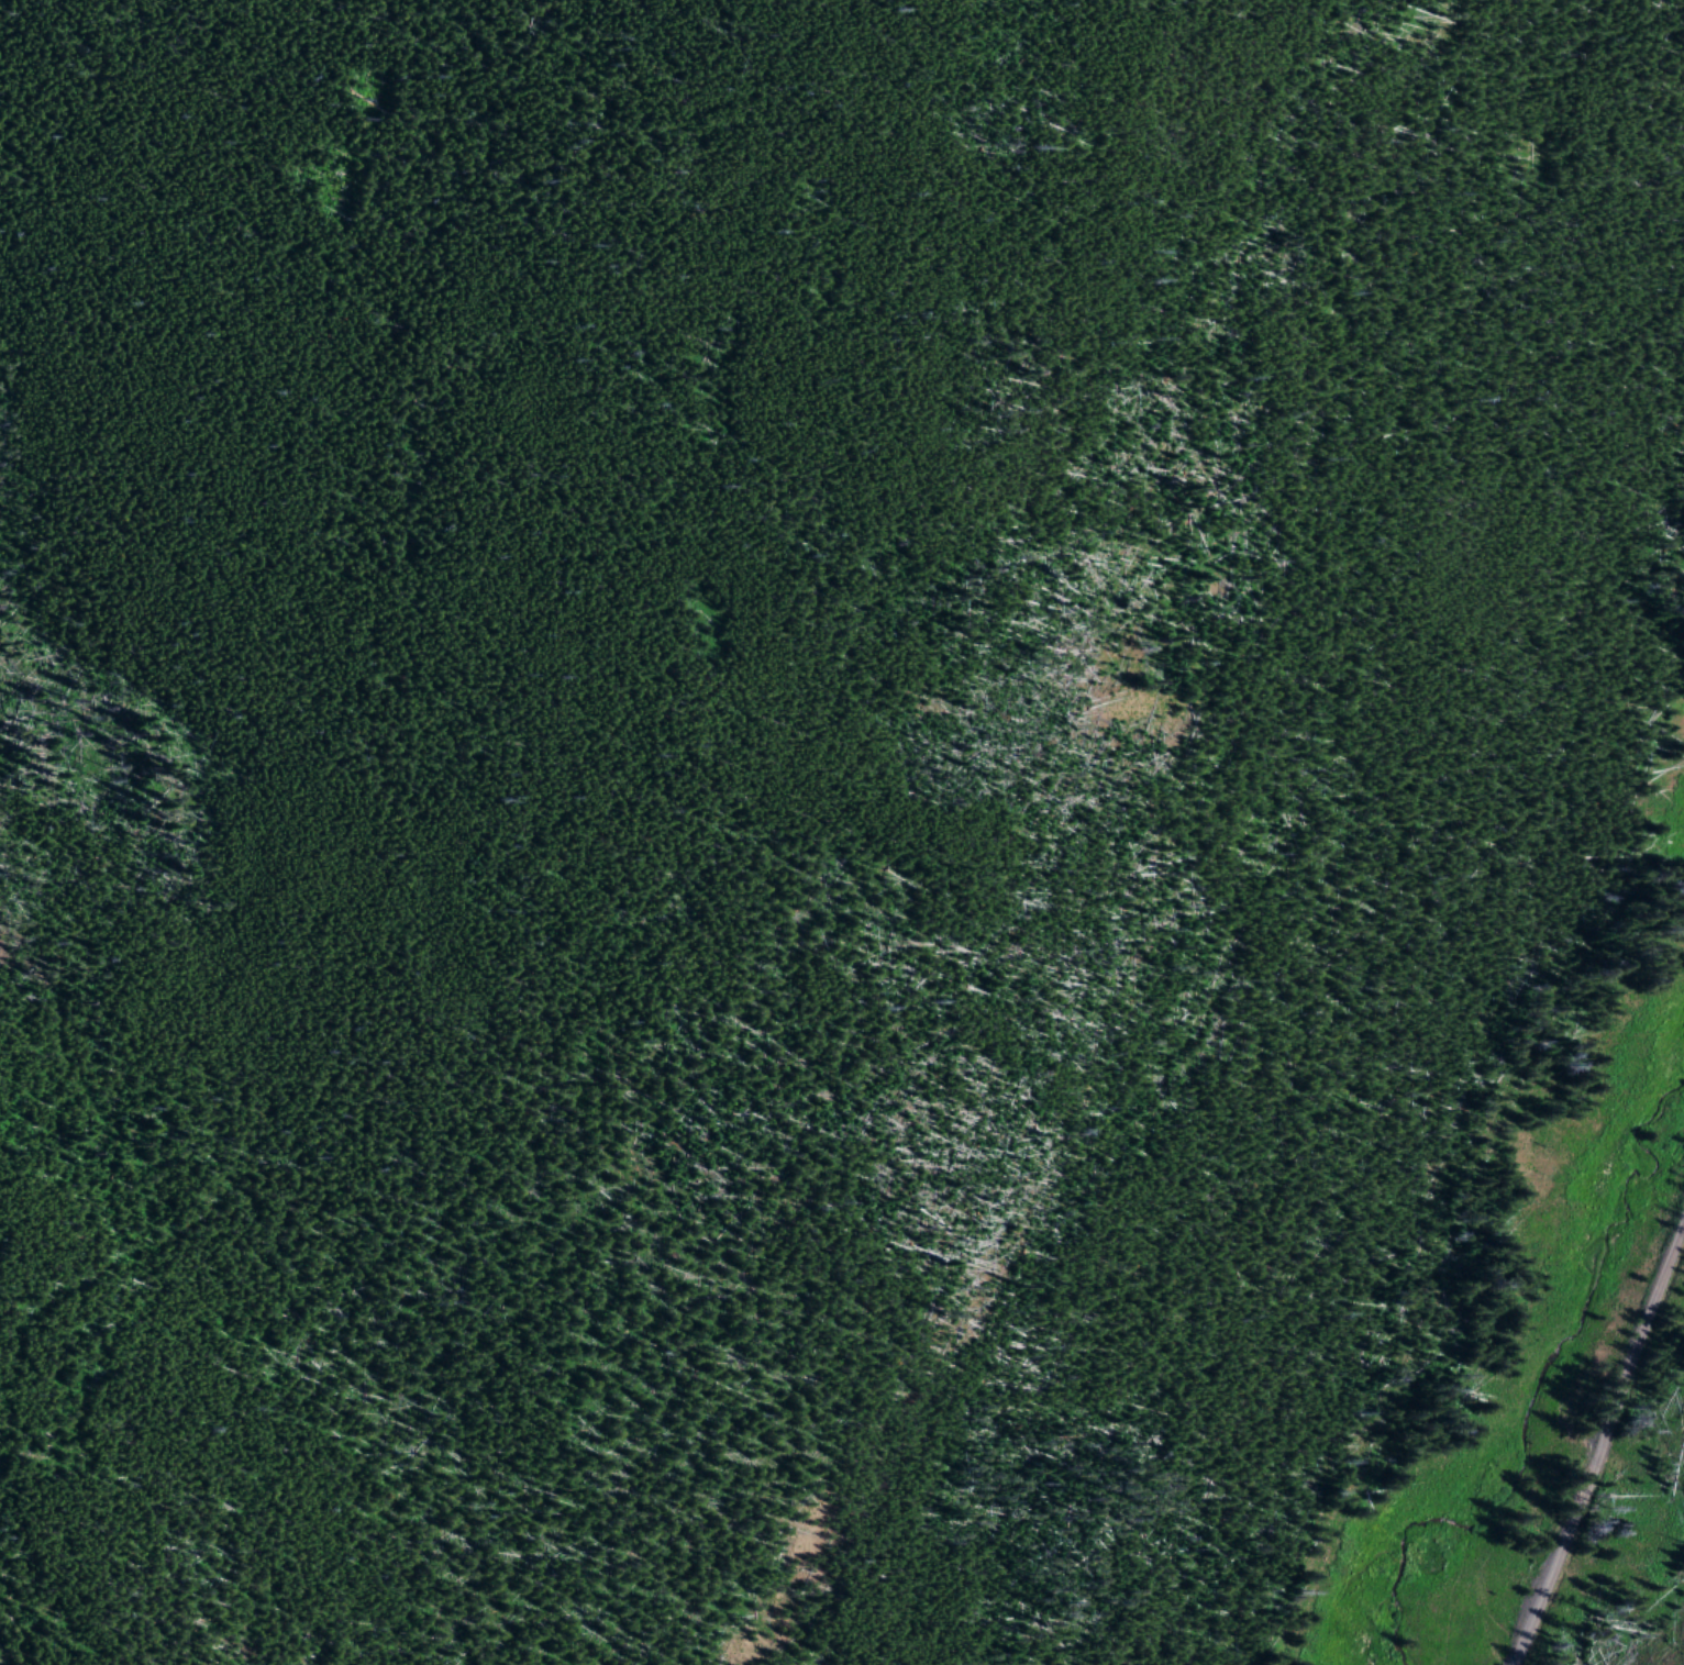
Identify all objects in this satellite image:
road: (1598, 1448)

